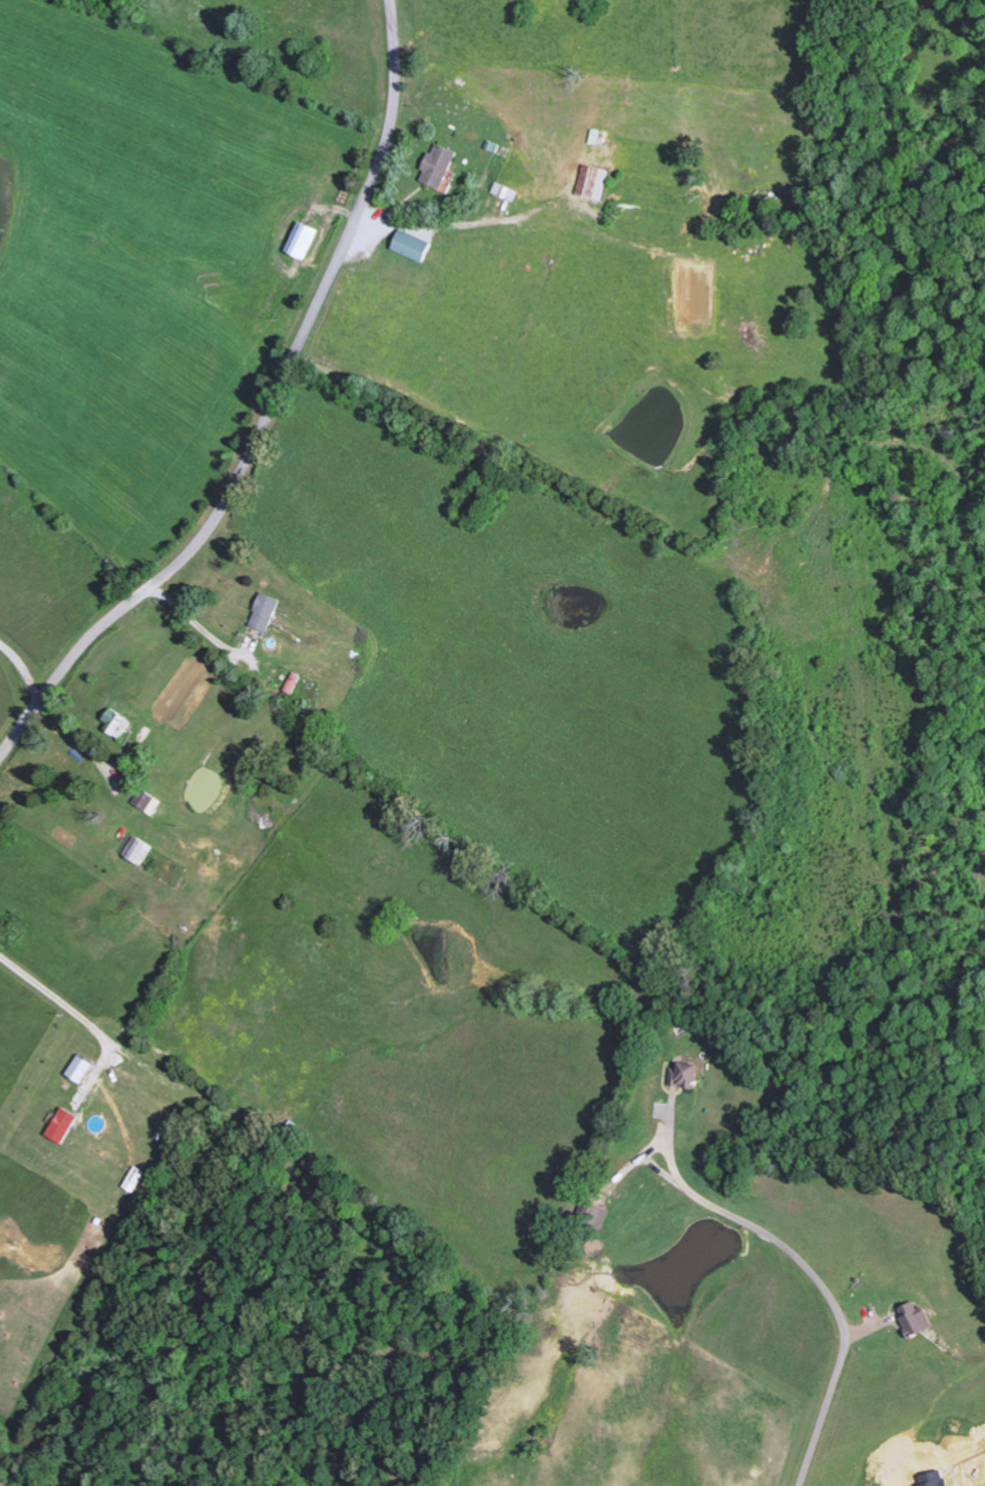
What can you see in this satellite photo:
building: (595, 137)
building: (438, 167)
building: (593, 183)
building: (505, 192)
building: (302, 241)
building: (411, 246)
road: (266, 411)
building: (265, 611)
road: (158, 617)
building: (293, 683)
building: (117, 722)
building: (148, 802)
building: (139, 851)
building: (80, 1069)
building: (688, 1073)
building: (62, 1125)
building: (597, 1217)
building: (916, 1319)

